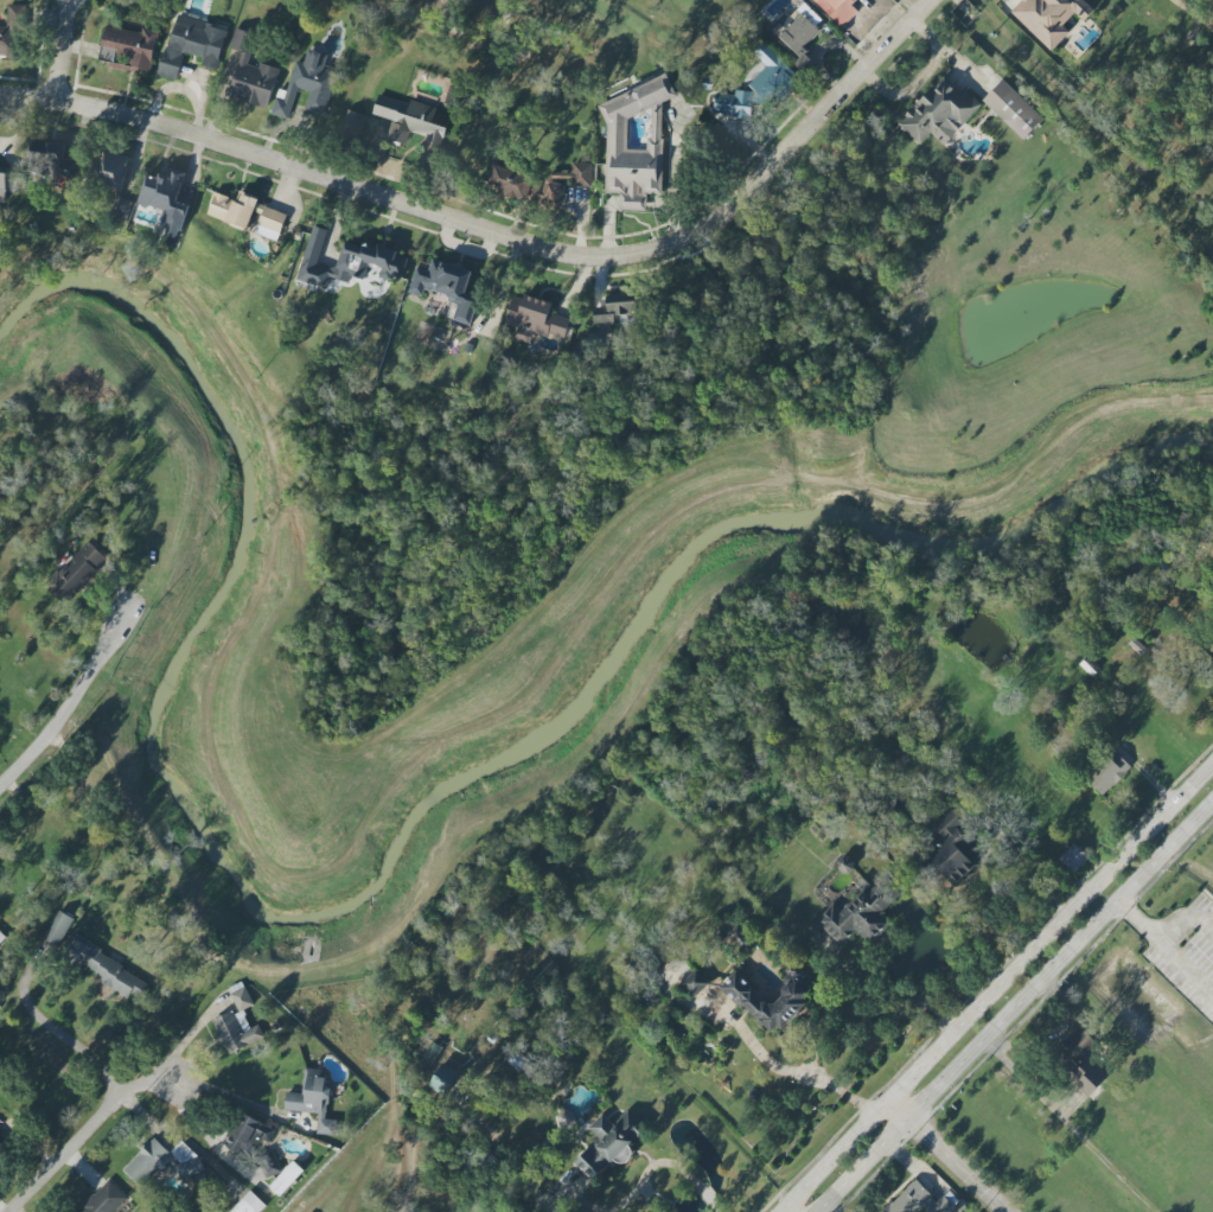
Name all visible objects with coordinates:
building: (839, 9)
building: (1049, 18)
building: (12, 33)
building: (799, 34)
park: (555, 37)
building: (193, 44)
building: (129, 46)
road: (822, 47)
road: (57, 50)
building: (251, 74)
building: (772, 76)
building: (306, 85)
building: (734, 103)
building: (1013, 109)
building: (939, 111)
building: (411, 121)
building: (353, 123)
building: (636, 141)
building: (47, 160)
building: (110, 170)
building: (2, 184)
building: (540, 184)
building: (166, 198)
building: (121, 209)
building: (247, 213)
road: (506, 237)
building: (448, 288)
building: (535, 319)
building: (76, 572)
road: (71, 701)
building: (1109, 772)
building: (945, 819)
building: (947, 856)
building: (1073, 859)
river: (385, 876)
building: (860, 914)
road: (1188, 920)
road: (1139, 924)
building: (58, 927)
building: (1, 937)
road: (1188, 970)
building: (695, 983)
road: (996, 987)
road: (900, 999)
building: (766, 1002)
road: (1015, 1006)
building: (237, 1025)
road: (58, 1033)
building: (1079, 1058)
building: (443, 1079)
road: (215, 1092)
building: (313, 1101)
road: (1067, 1125)
building: (245, 1135)
building: (1, 1141)
road: (88, 1141)
building: (609, 1143)
building: (162, 1161)
road: (956, 1165)
road: (689, 1178)
building: (286, 1179)
building: (104, 1199)
building: (921, 1201)
building: (249, 1204)
road: (781, 1211)

